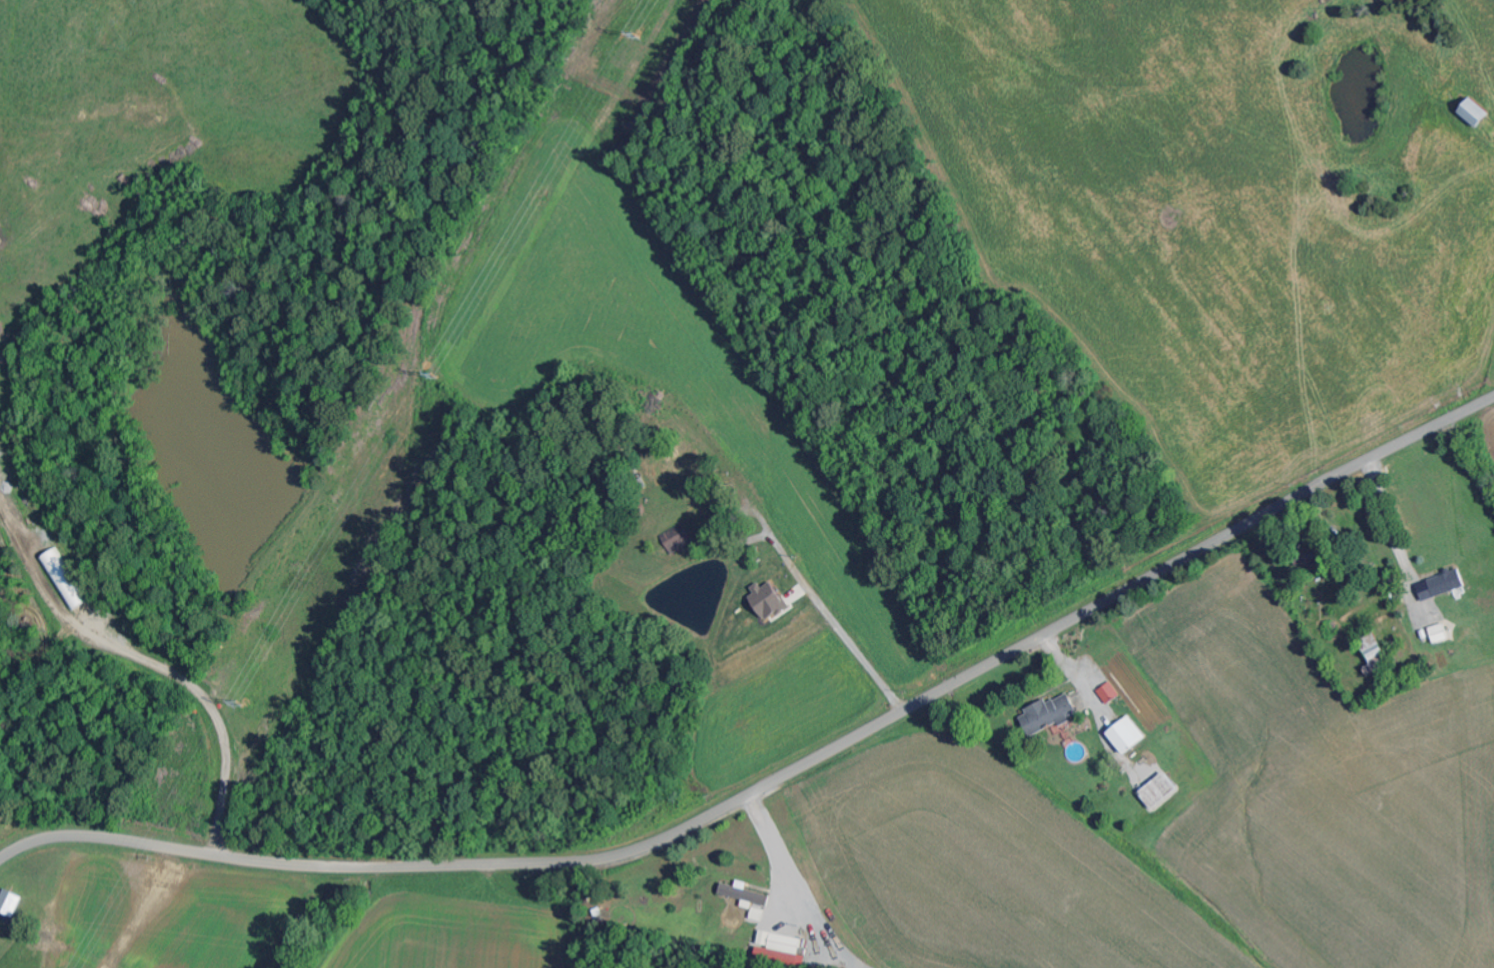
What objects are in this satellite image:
building: (1476, 113)
building: (679, 539)
building: (1316, 558)
building: (68, 579)
building: (1450, 583)
building: (770, 600)
building: (1442, 634)
building: (1375, 652)
building: (1111, 693)
road: (917, 704)
building: (1050, 715)
building: (1129, 736)
building: (1161, 792)
building: (746, 894)
building: (12, 903)
building: (782, 943)

